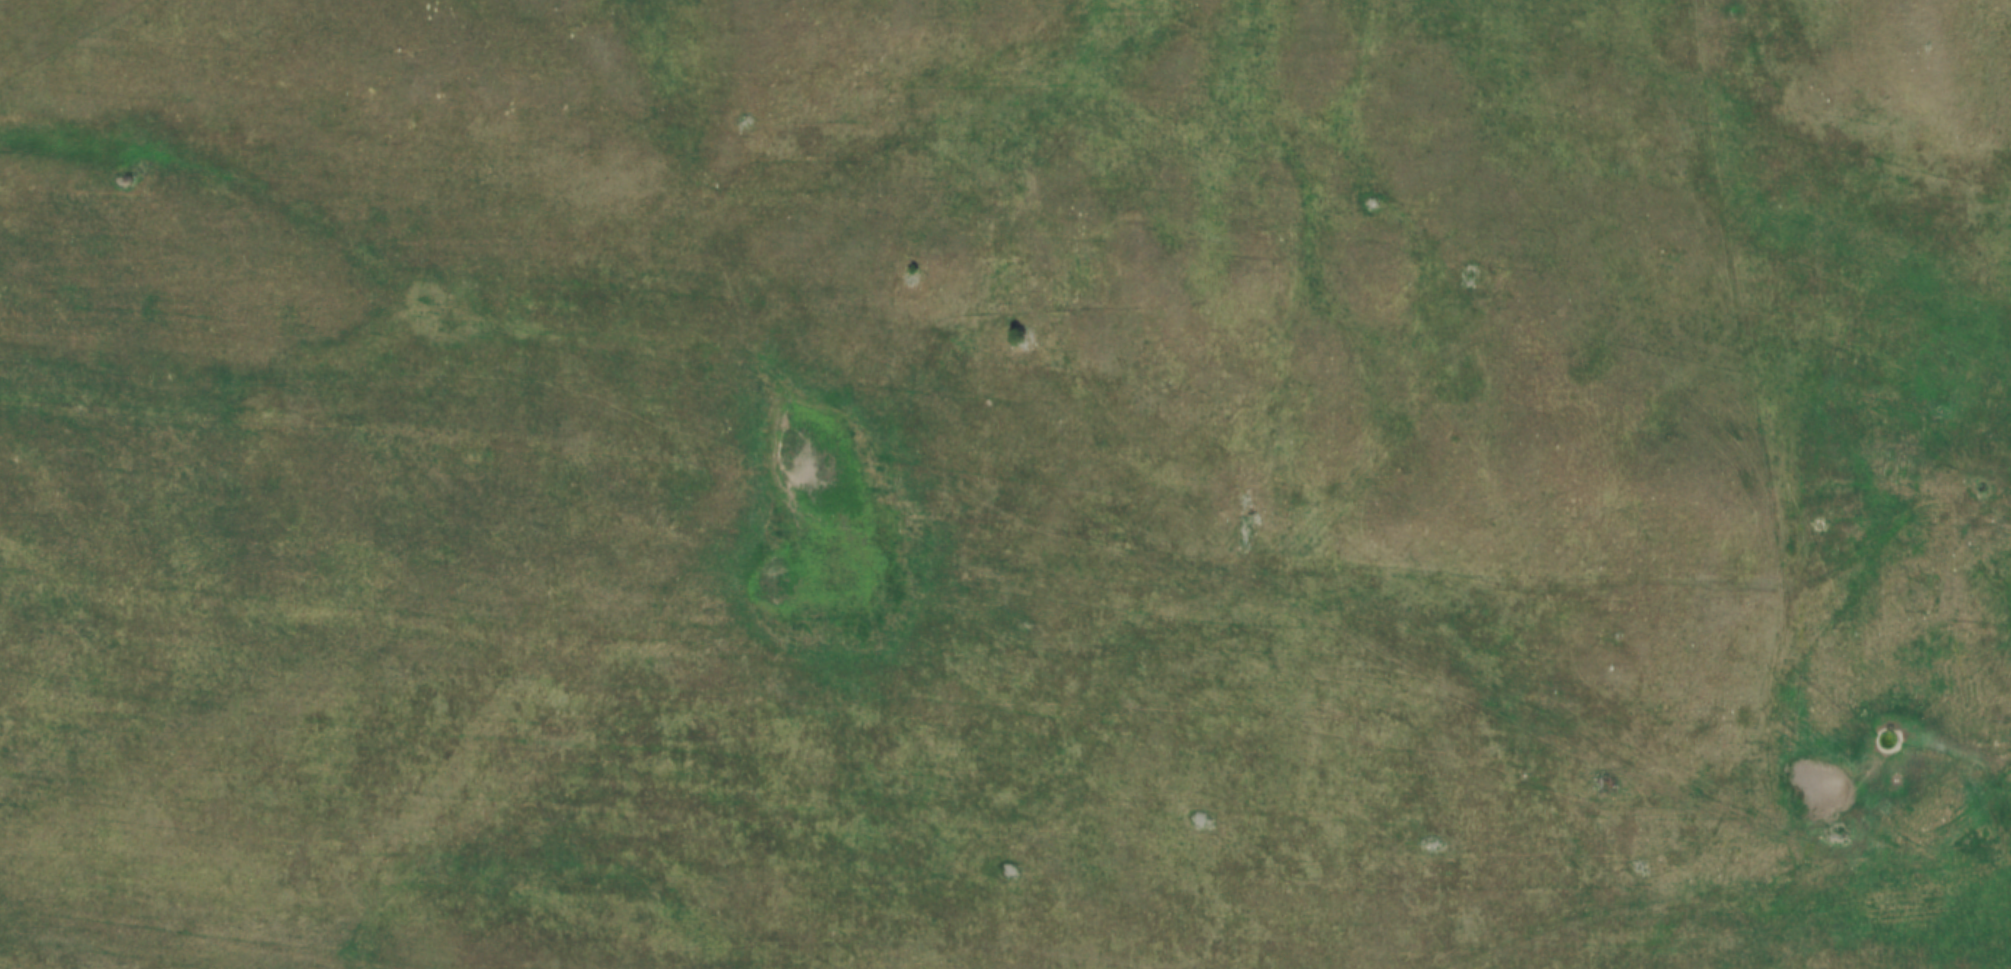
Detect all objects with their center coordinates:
road: (1001, 511)

